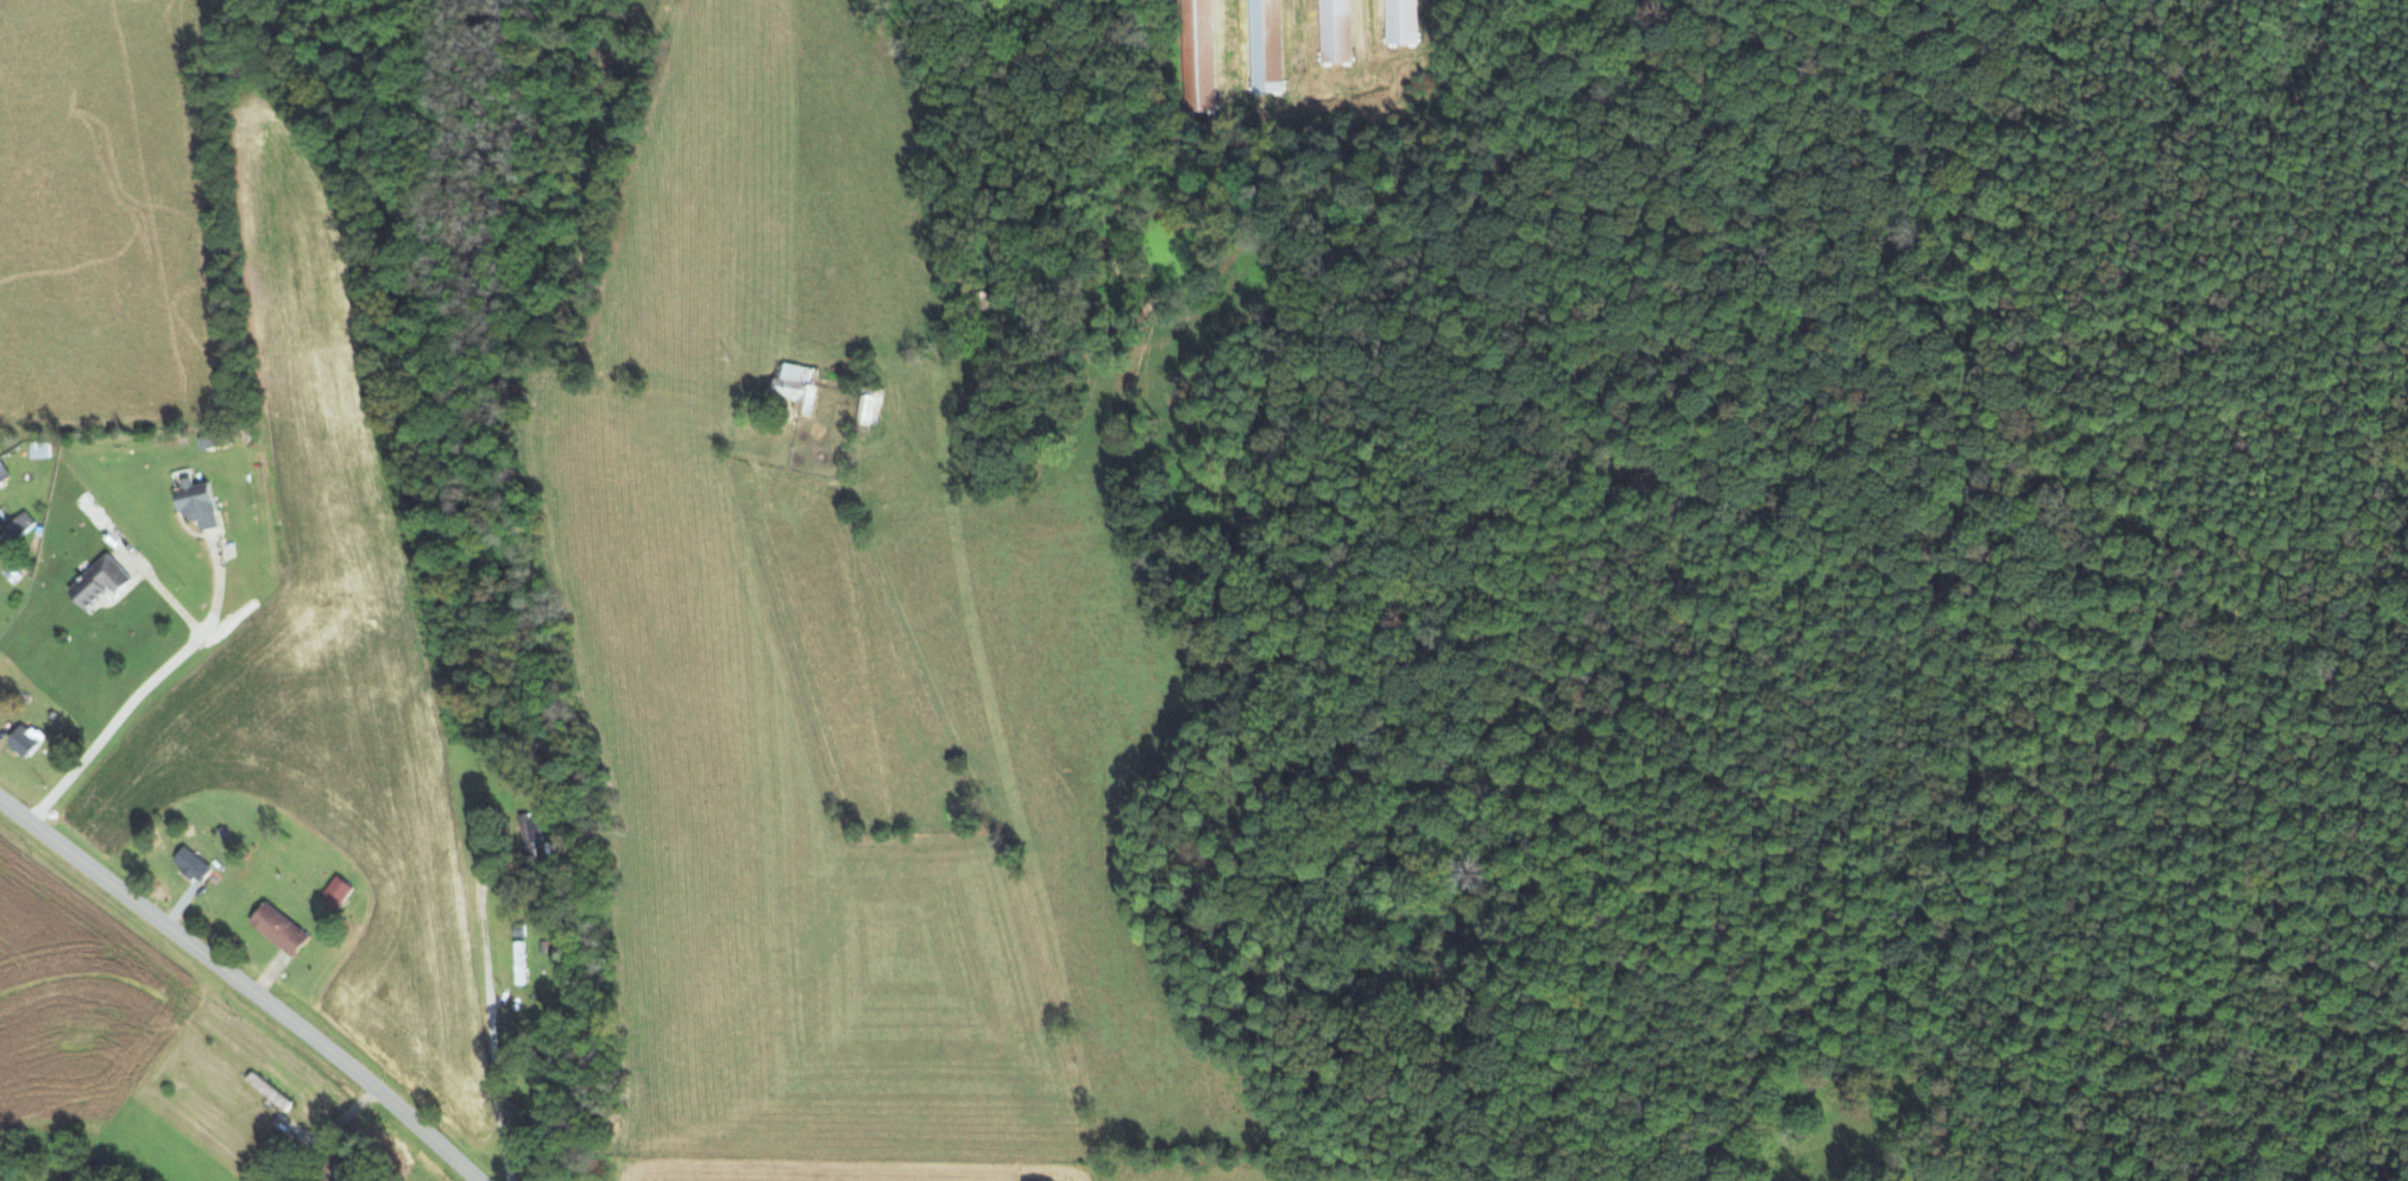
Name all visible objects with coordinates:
building: (1399, 21)
building: (1332, 31)
building: (1262, 45)
building: (1196, 56)
building: (795, 386)
building: (869, 409)
building: (38, 449)
building: (4, 472)
building: (195, 501)
building: (15, 526)
building: (99, 581)
road: (165, 594)
road: (143, 691)
building: (24, 739)
building: (531, 834)
building: (190, 864)
building: (336, 891)
building: (278, 928)
road: (241, 985)
road: (488, 1016)

